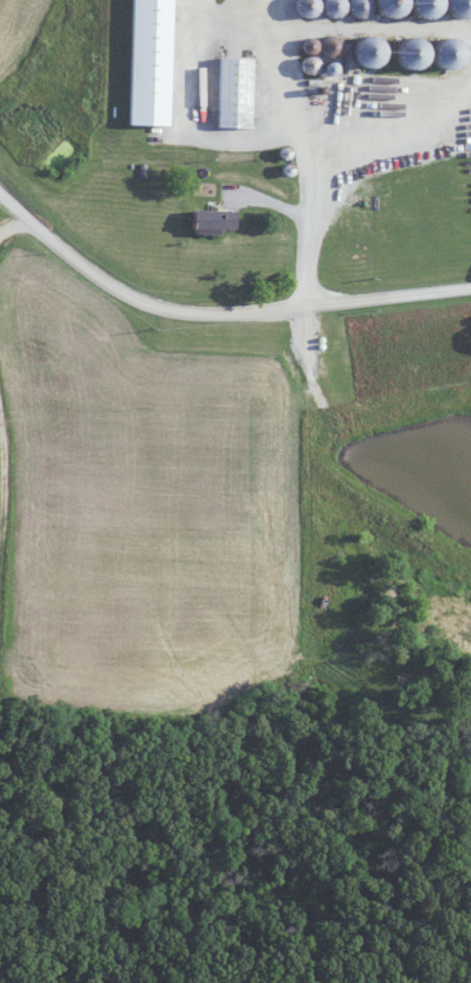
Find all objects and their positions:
building: (151, 63)
building: (235, 93)
road: (297, 143)
building: (216, 222)
road: (13, 227)
road: (216, 309)

